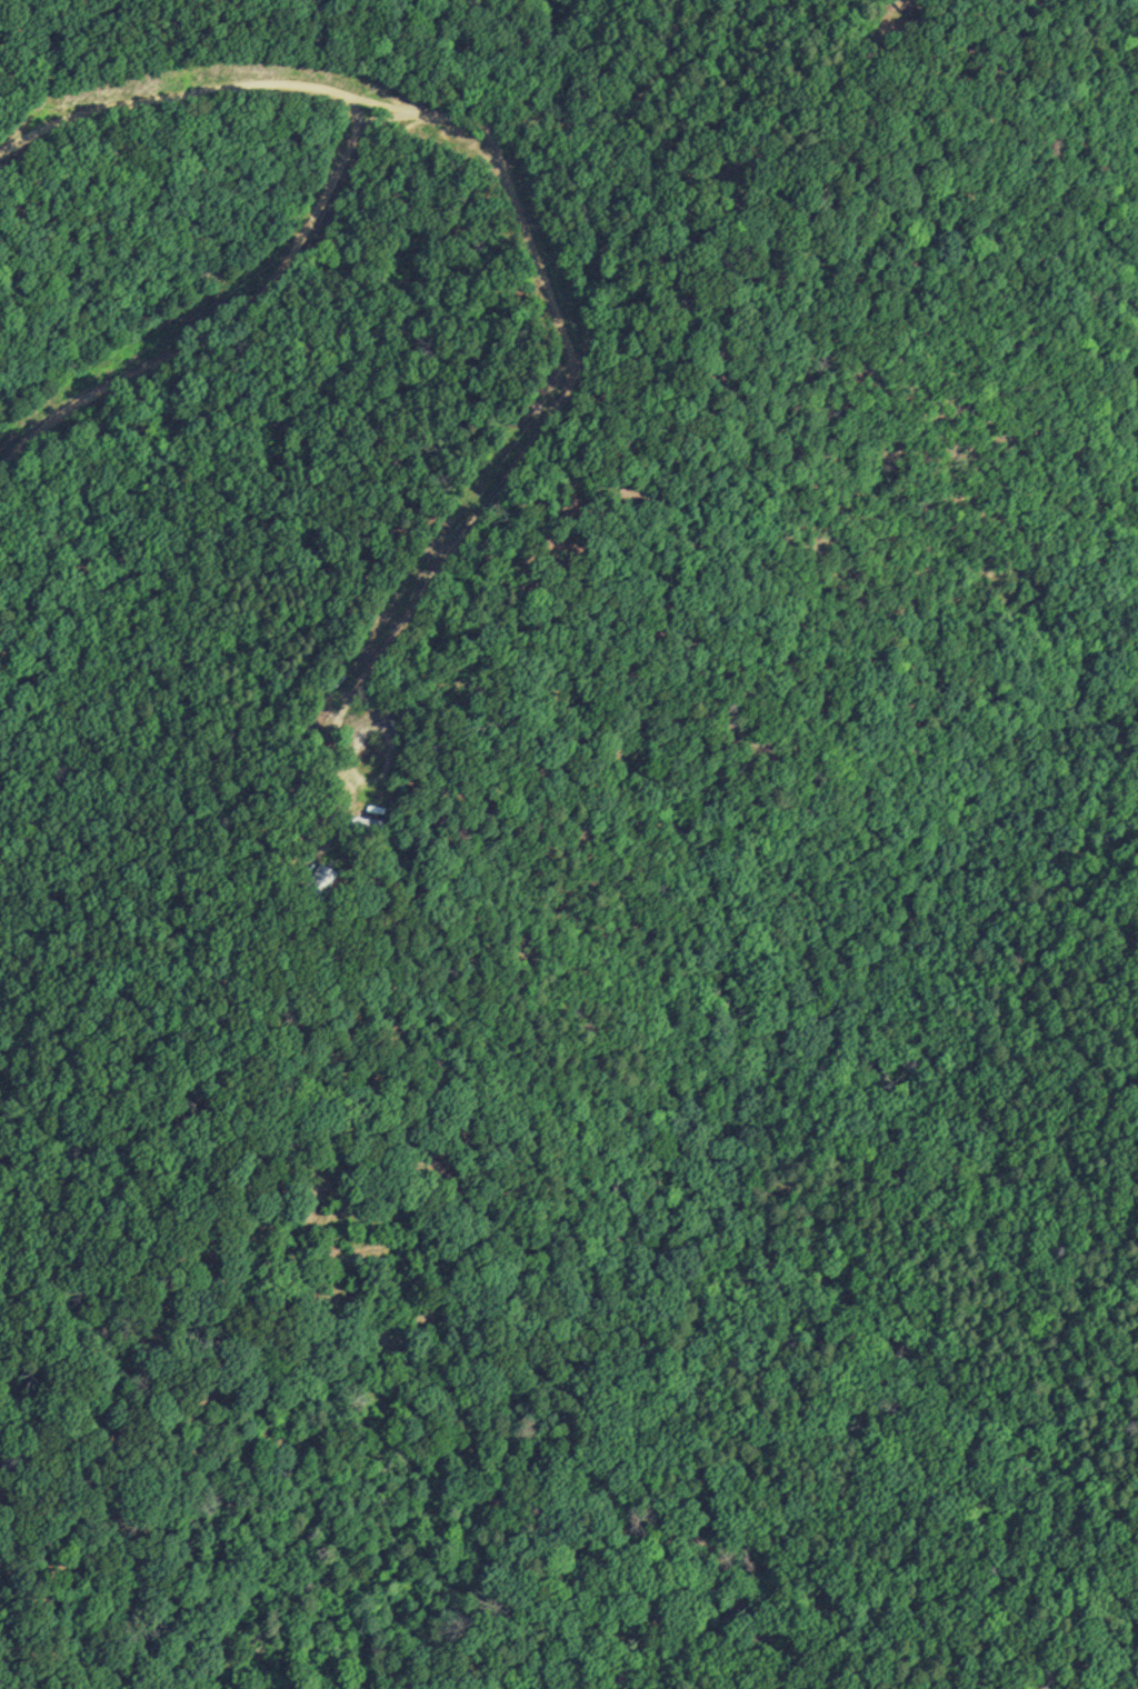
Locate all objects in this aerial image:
road: (181, 99)
road: (563, 124)
road: (226, 329)
road: (530, 441)

